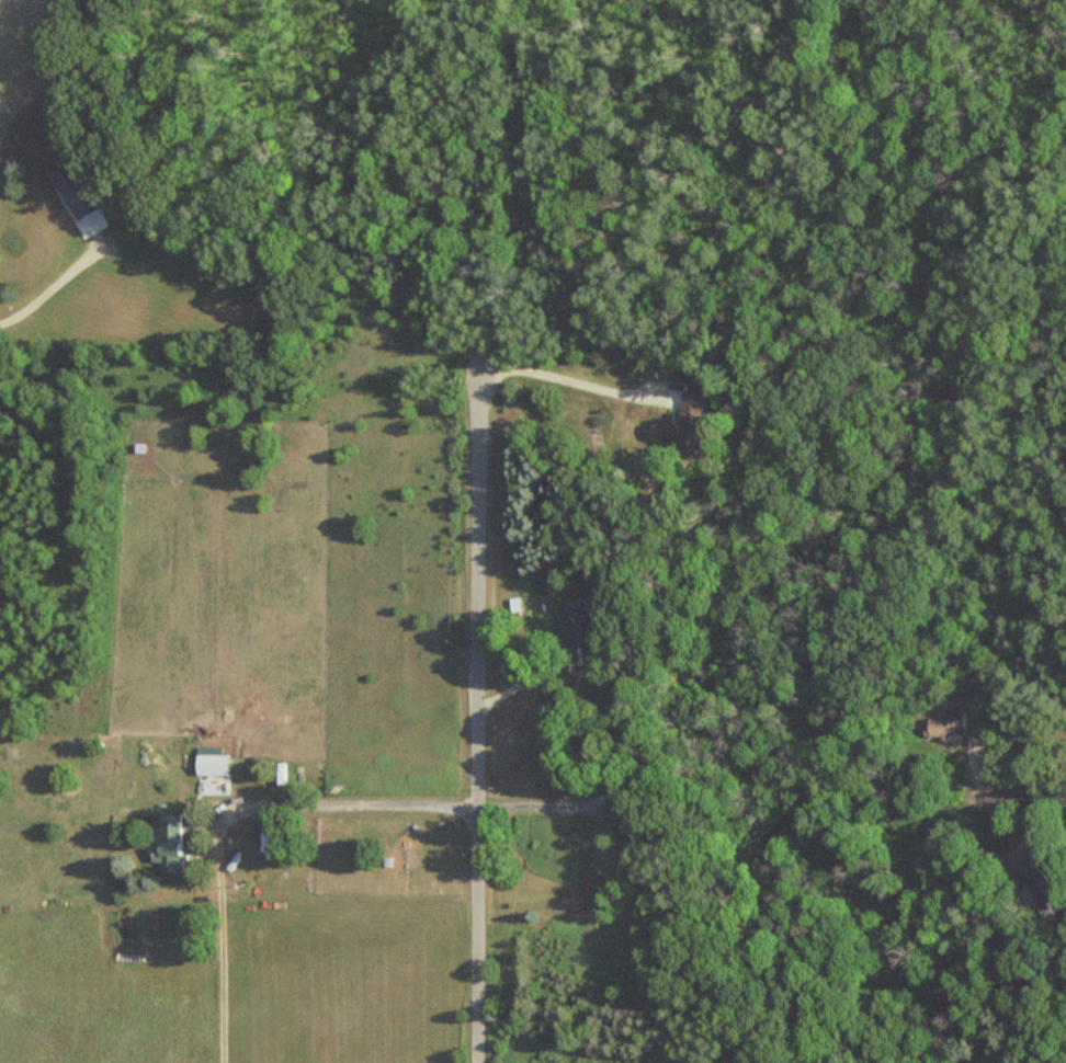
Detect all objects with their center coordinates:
building: (70, 191)
road: (53, 285)
building: (580, 622)
road: (473, 637)
building: (945, 723)
building: (209, 765)
road: (1023, 796)
road: (419, 805)
building: (1046, 900)
road: (230, 936)

